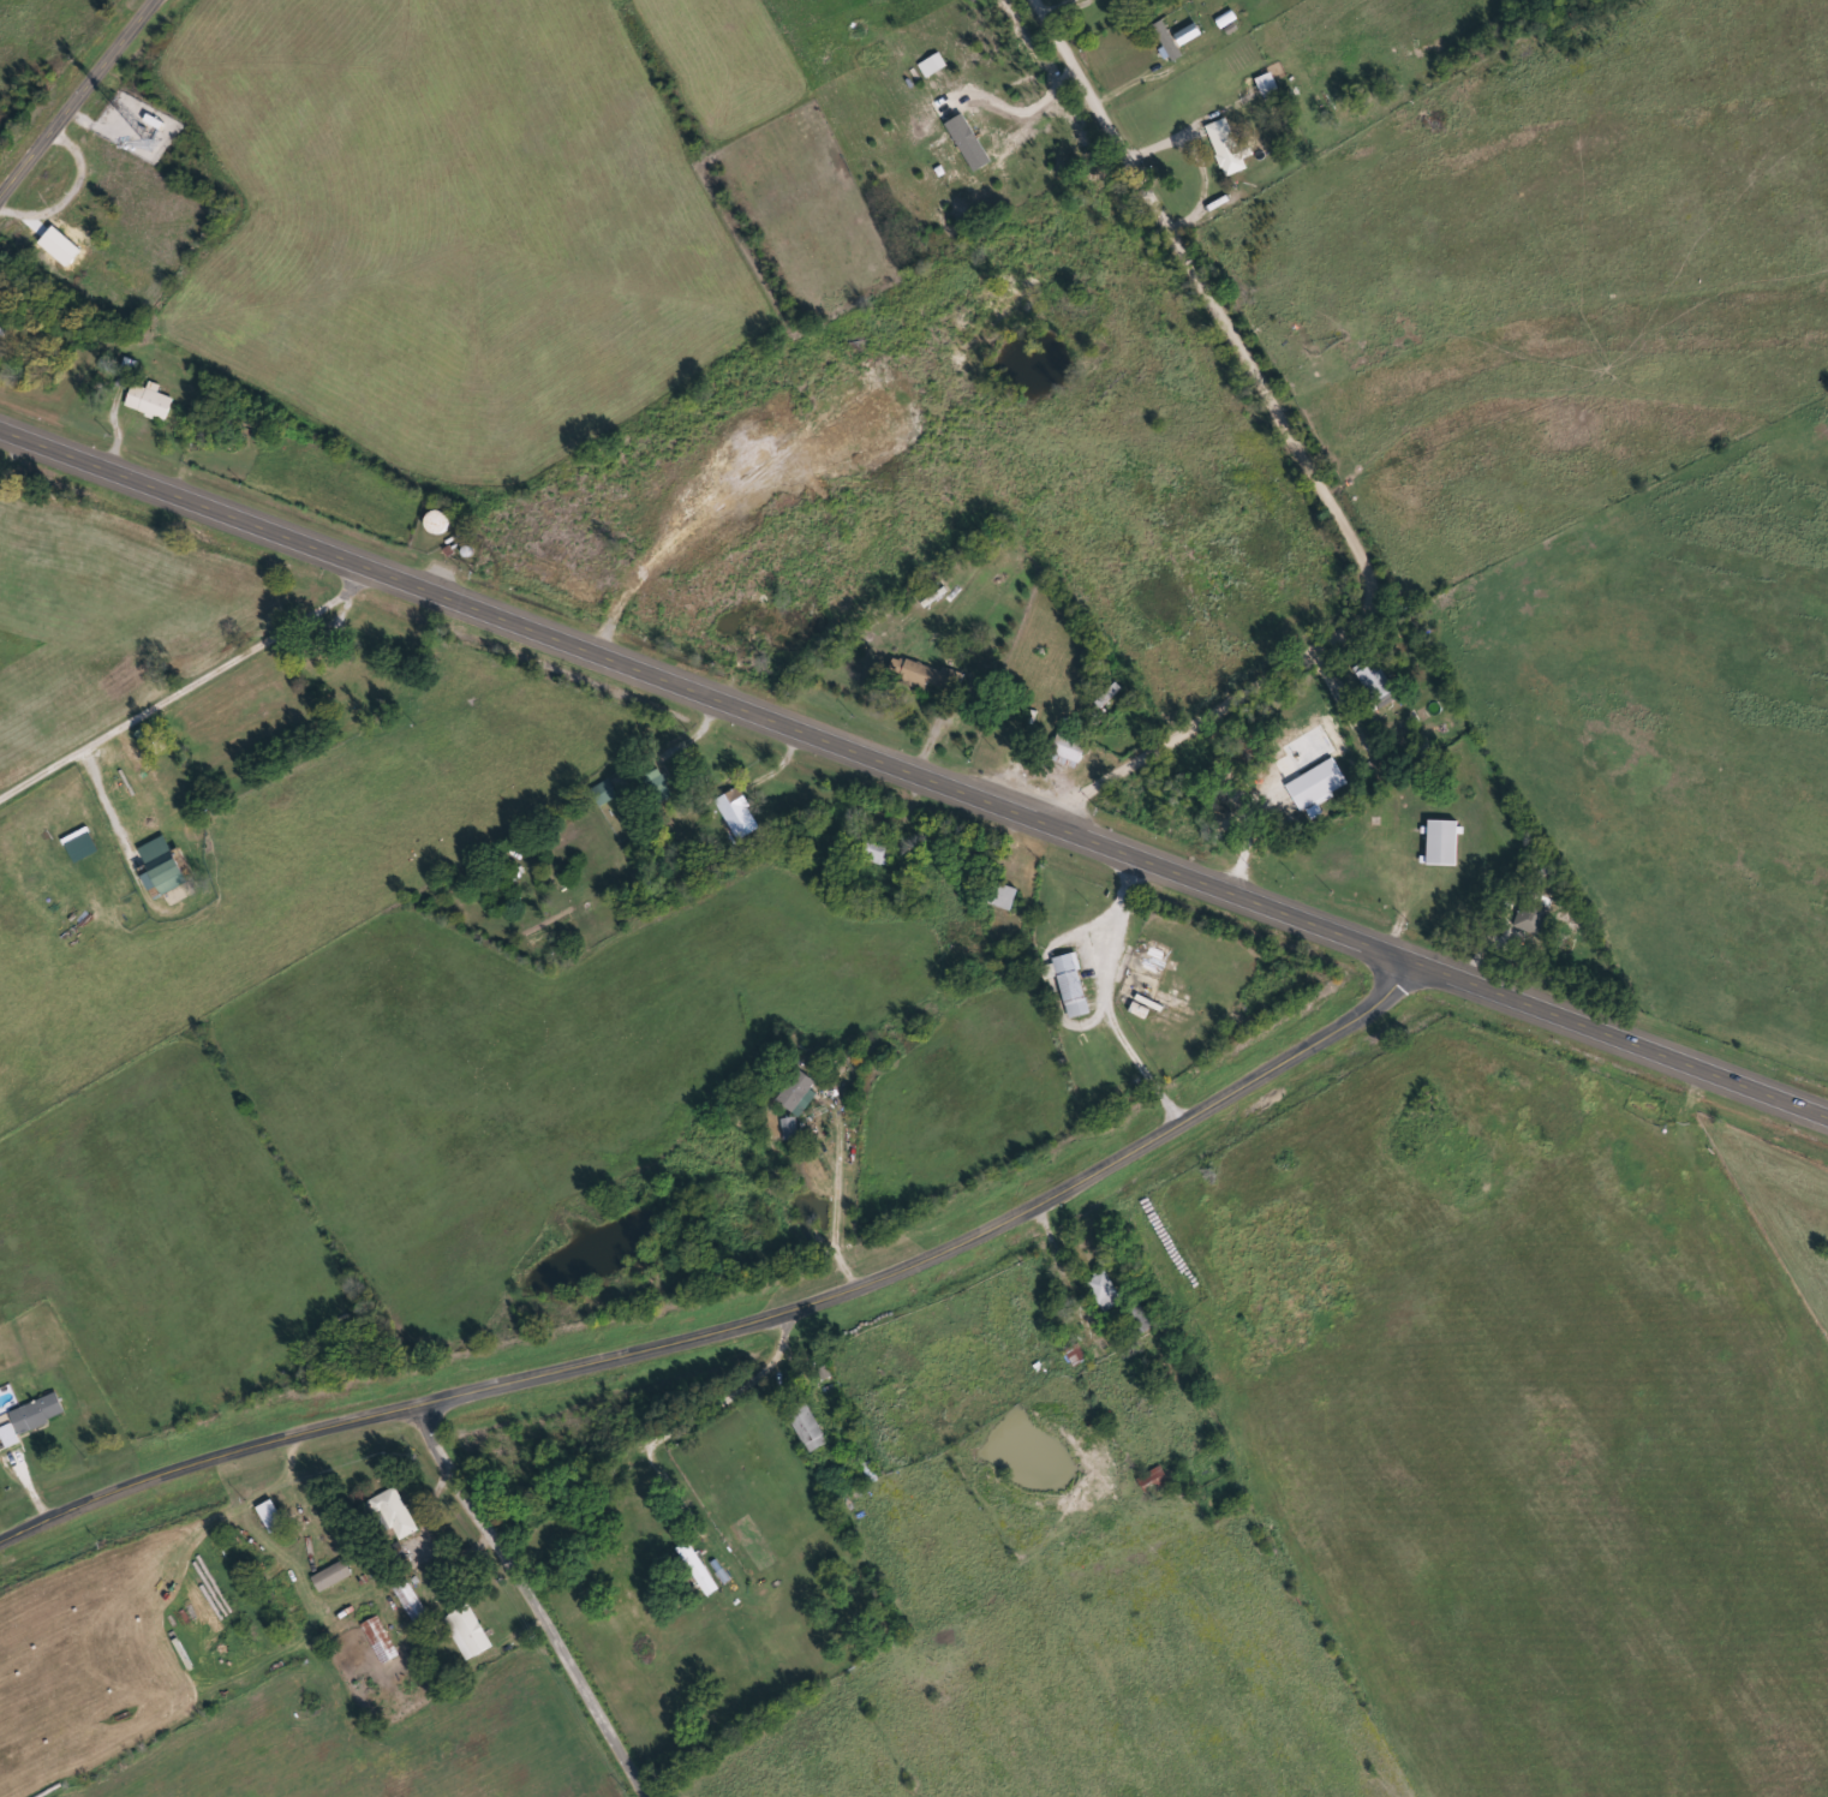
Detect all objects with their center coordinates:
building: (1189, 34)
building: (1169, 41)
building: (1268, 83)
road: (73, 89)
building: (154, 121)
building: (1221, 121)
building: (1229, 157)
building: (149, 401)
road: (1309, 466)
building: (759, 601)
road: (185, 675)
building: (932, 677)
building: (1375, 682)
building: (1069, 747)
road: (914, 764)
building: (661, 786)
building: (1319, 786)
building: (144, 789)
building: (604, 792)
building: (737, 814)
road: (1319, 817)
building: (1442, 843)
building: (82, 844)
building: (878, 853)
building: (167, 865)
building: (998, 895)
building: (1530, 917)
road: (954, 981)
building: (1075, 987)
building: (796, 1093)
building: (789, 1128)
building: (1104, 1291)
building: (1141, 1318)
road: (743, 1326)
building: (1077, 1354)
building: (31, 1416)
building: (808, 1427)
road: (659, 1439)
building: (1153, 1481)
building: (392, 1512)
building: (269, 1515)
building: (699, 1569)
building: (331, 1576)
road: (533, 1600)
building: (411, 1602)
building: (466, 1632)
building: (380, 1640)

